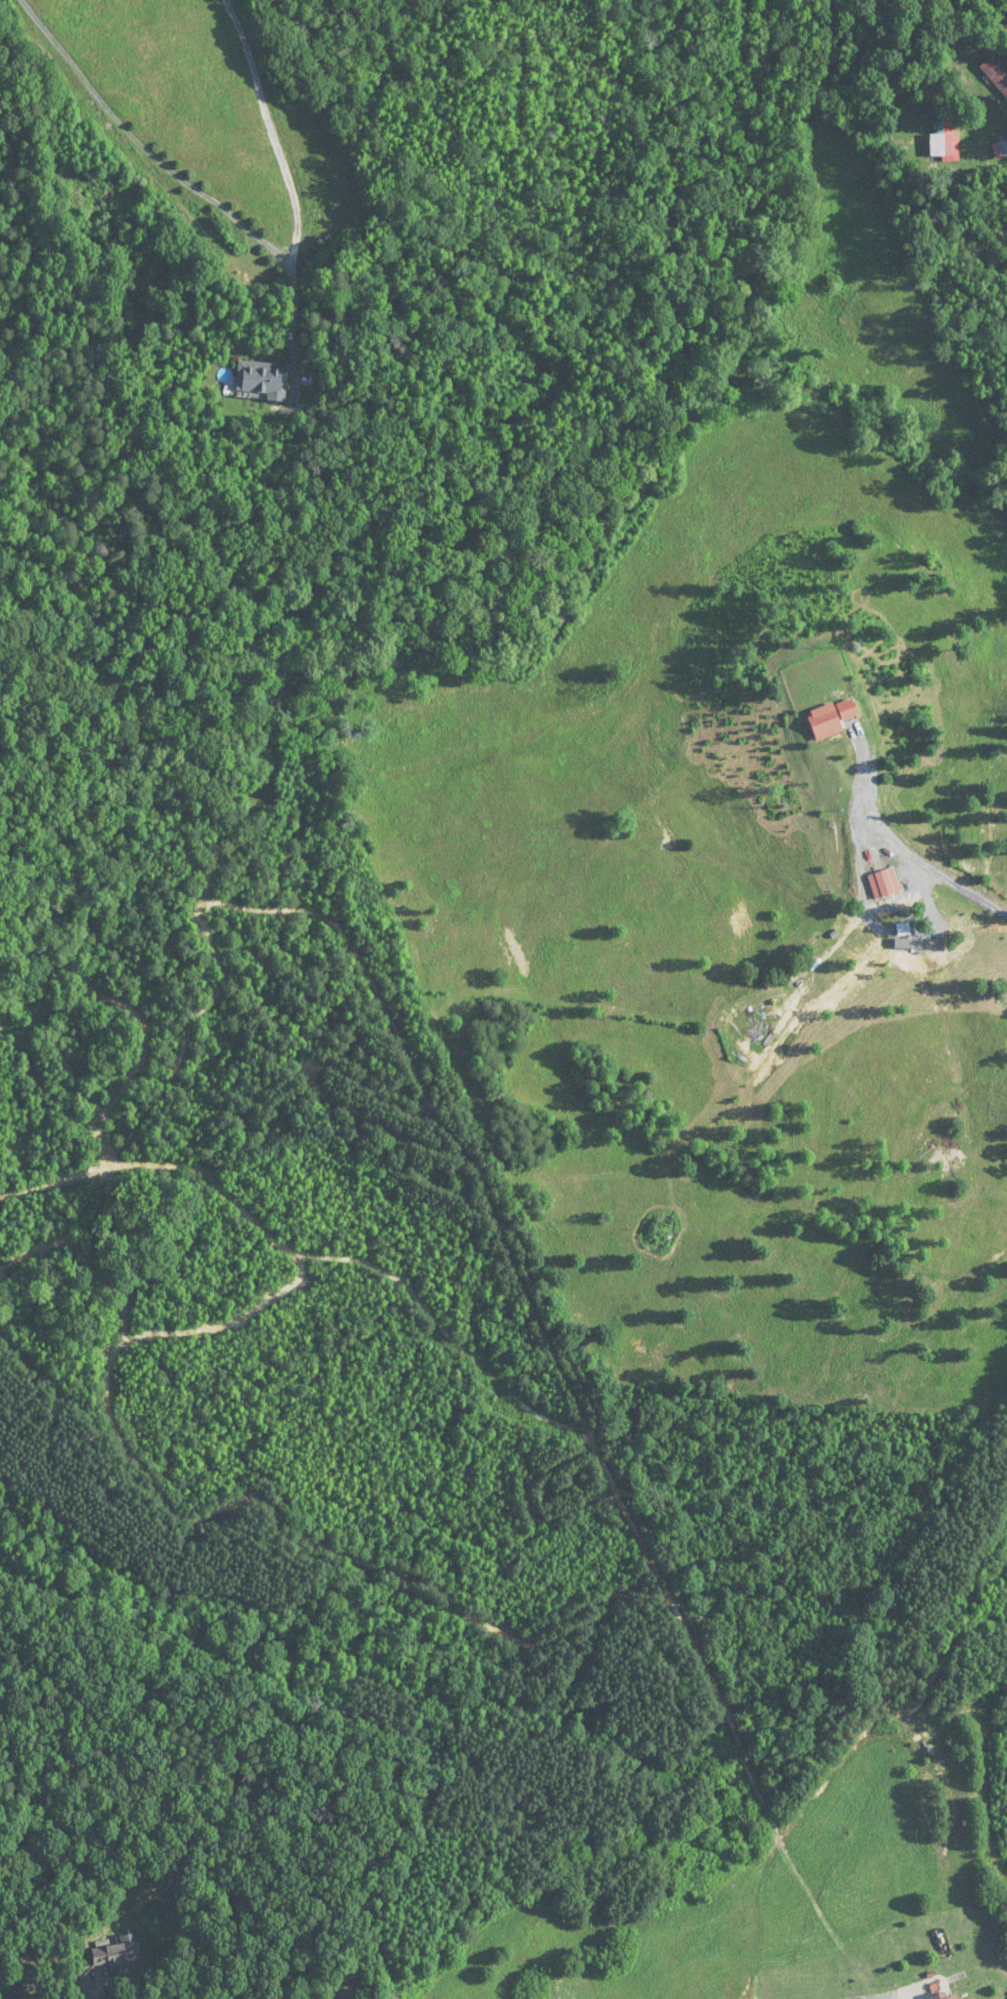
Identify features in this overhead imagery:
building: (996, 74)
building: (944, 130)
road: (142, 145)
road: (286, 177)
building: (262, 378)
building: (831, 718)
road: (910, 852)
building: (884, 883)
building: (754, 1029)
building: (118, 1953)
building: (2, 1965)
road: (95, 1985)
building: (571, 1994)
building: (945, 1996)
building: (376, 1997)

